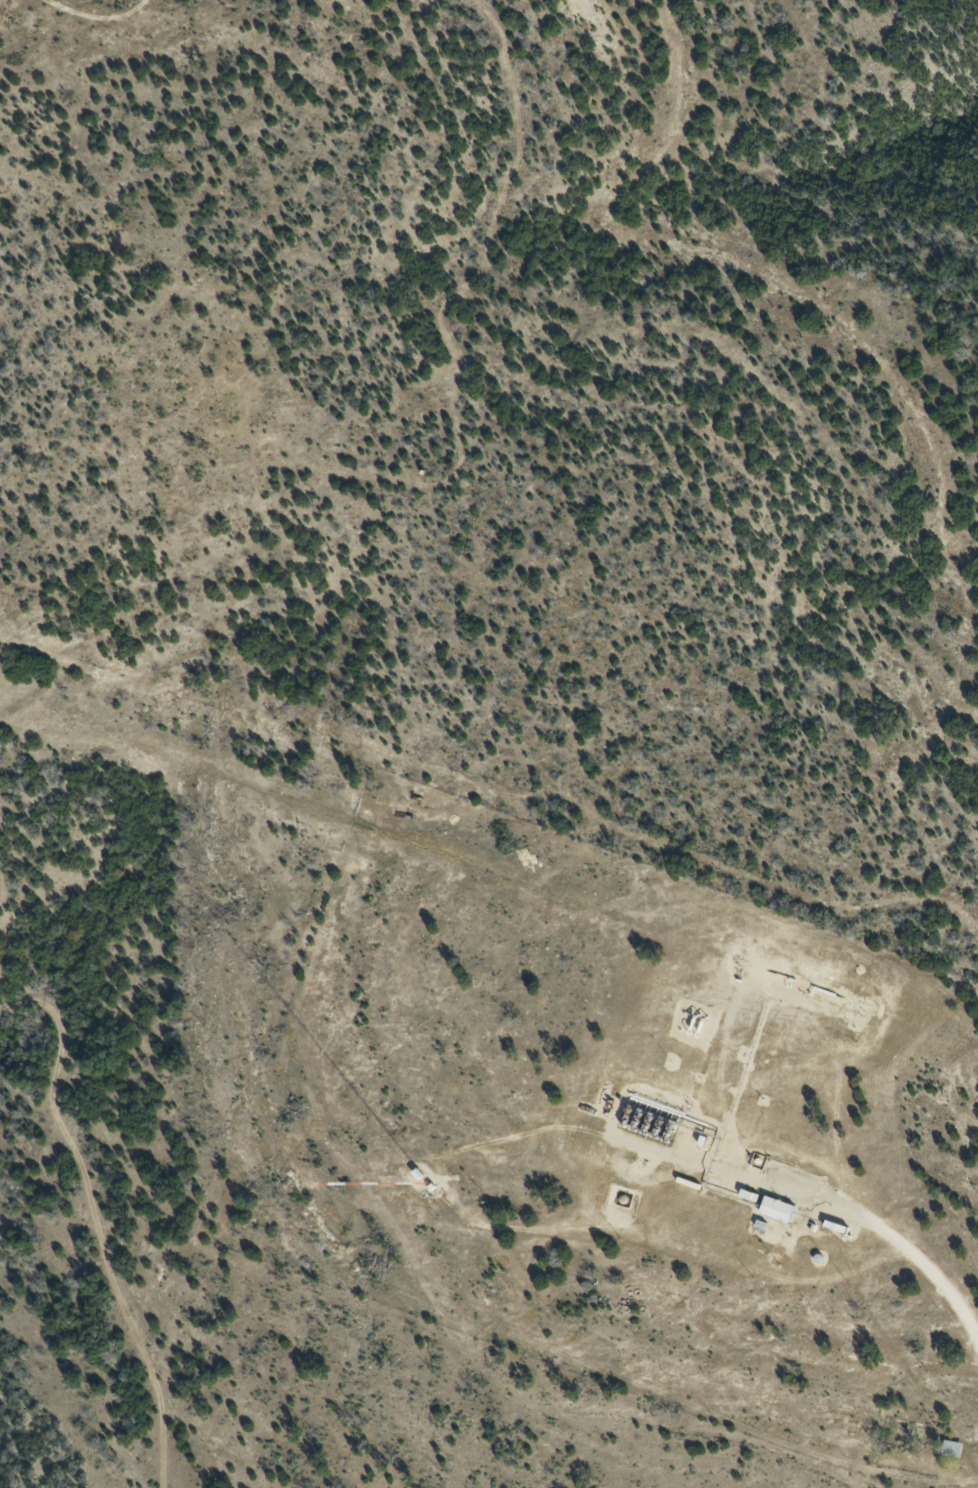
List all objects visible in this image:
building: (771, 1208)
road: (924, 1286)
building: (947, 1448)

